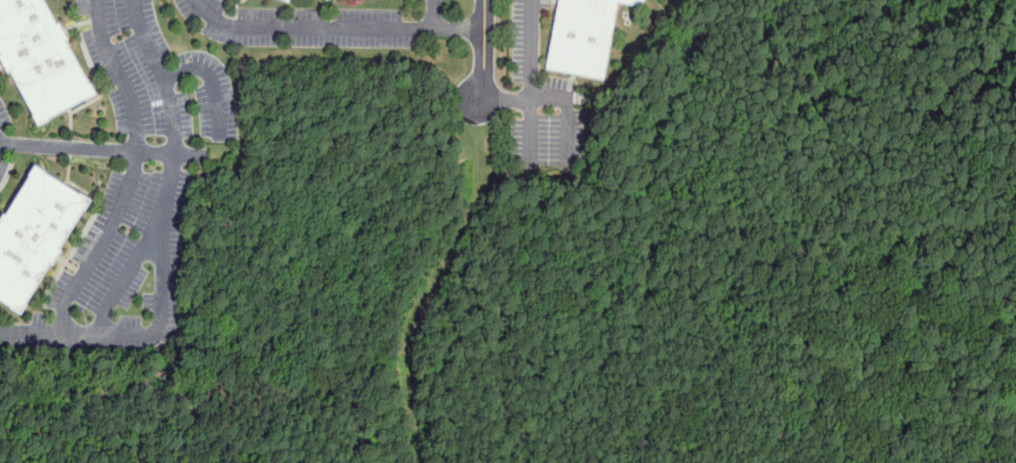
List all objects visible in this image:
building: (288, 0)
parking lot: (302, 26)
road: (324, 26)
road: (460, 28)
building: (585, 36)
road: (486, 49)
building: (41, 58)
parking lot: (157, 76)
road: (212, 81)
road: (531, 82)
road: (554, 97)
parking lot: (544, 102)
parking lot: (3, 113)
road: (103, 147)
parking lot: (3, 169)
road: (132, 169)
building: (34, 234)
road: (159, 241)
parking lot: (118, 273)
road: (125, 276)

